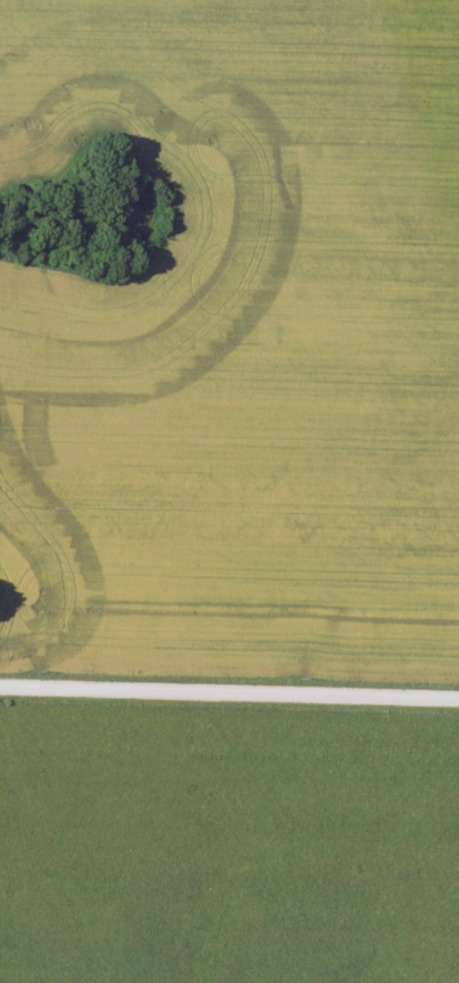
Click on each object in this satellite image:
road: (229, 694)

